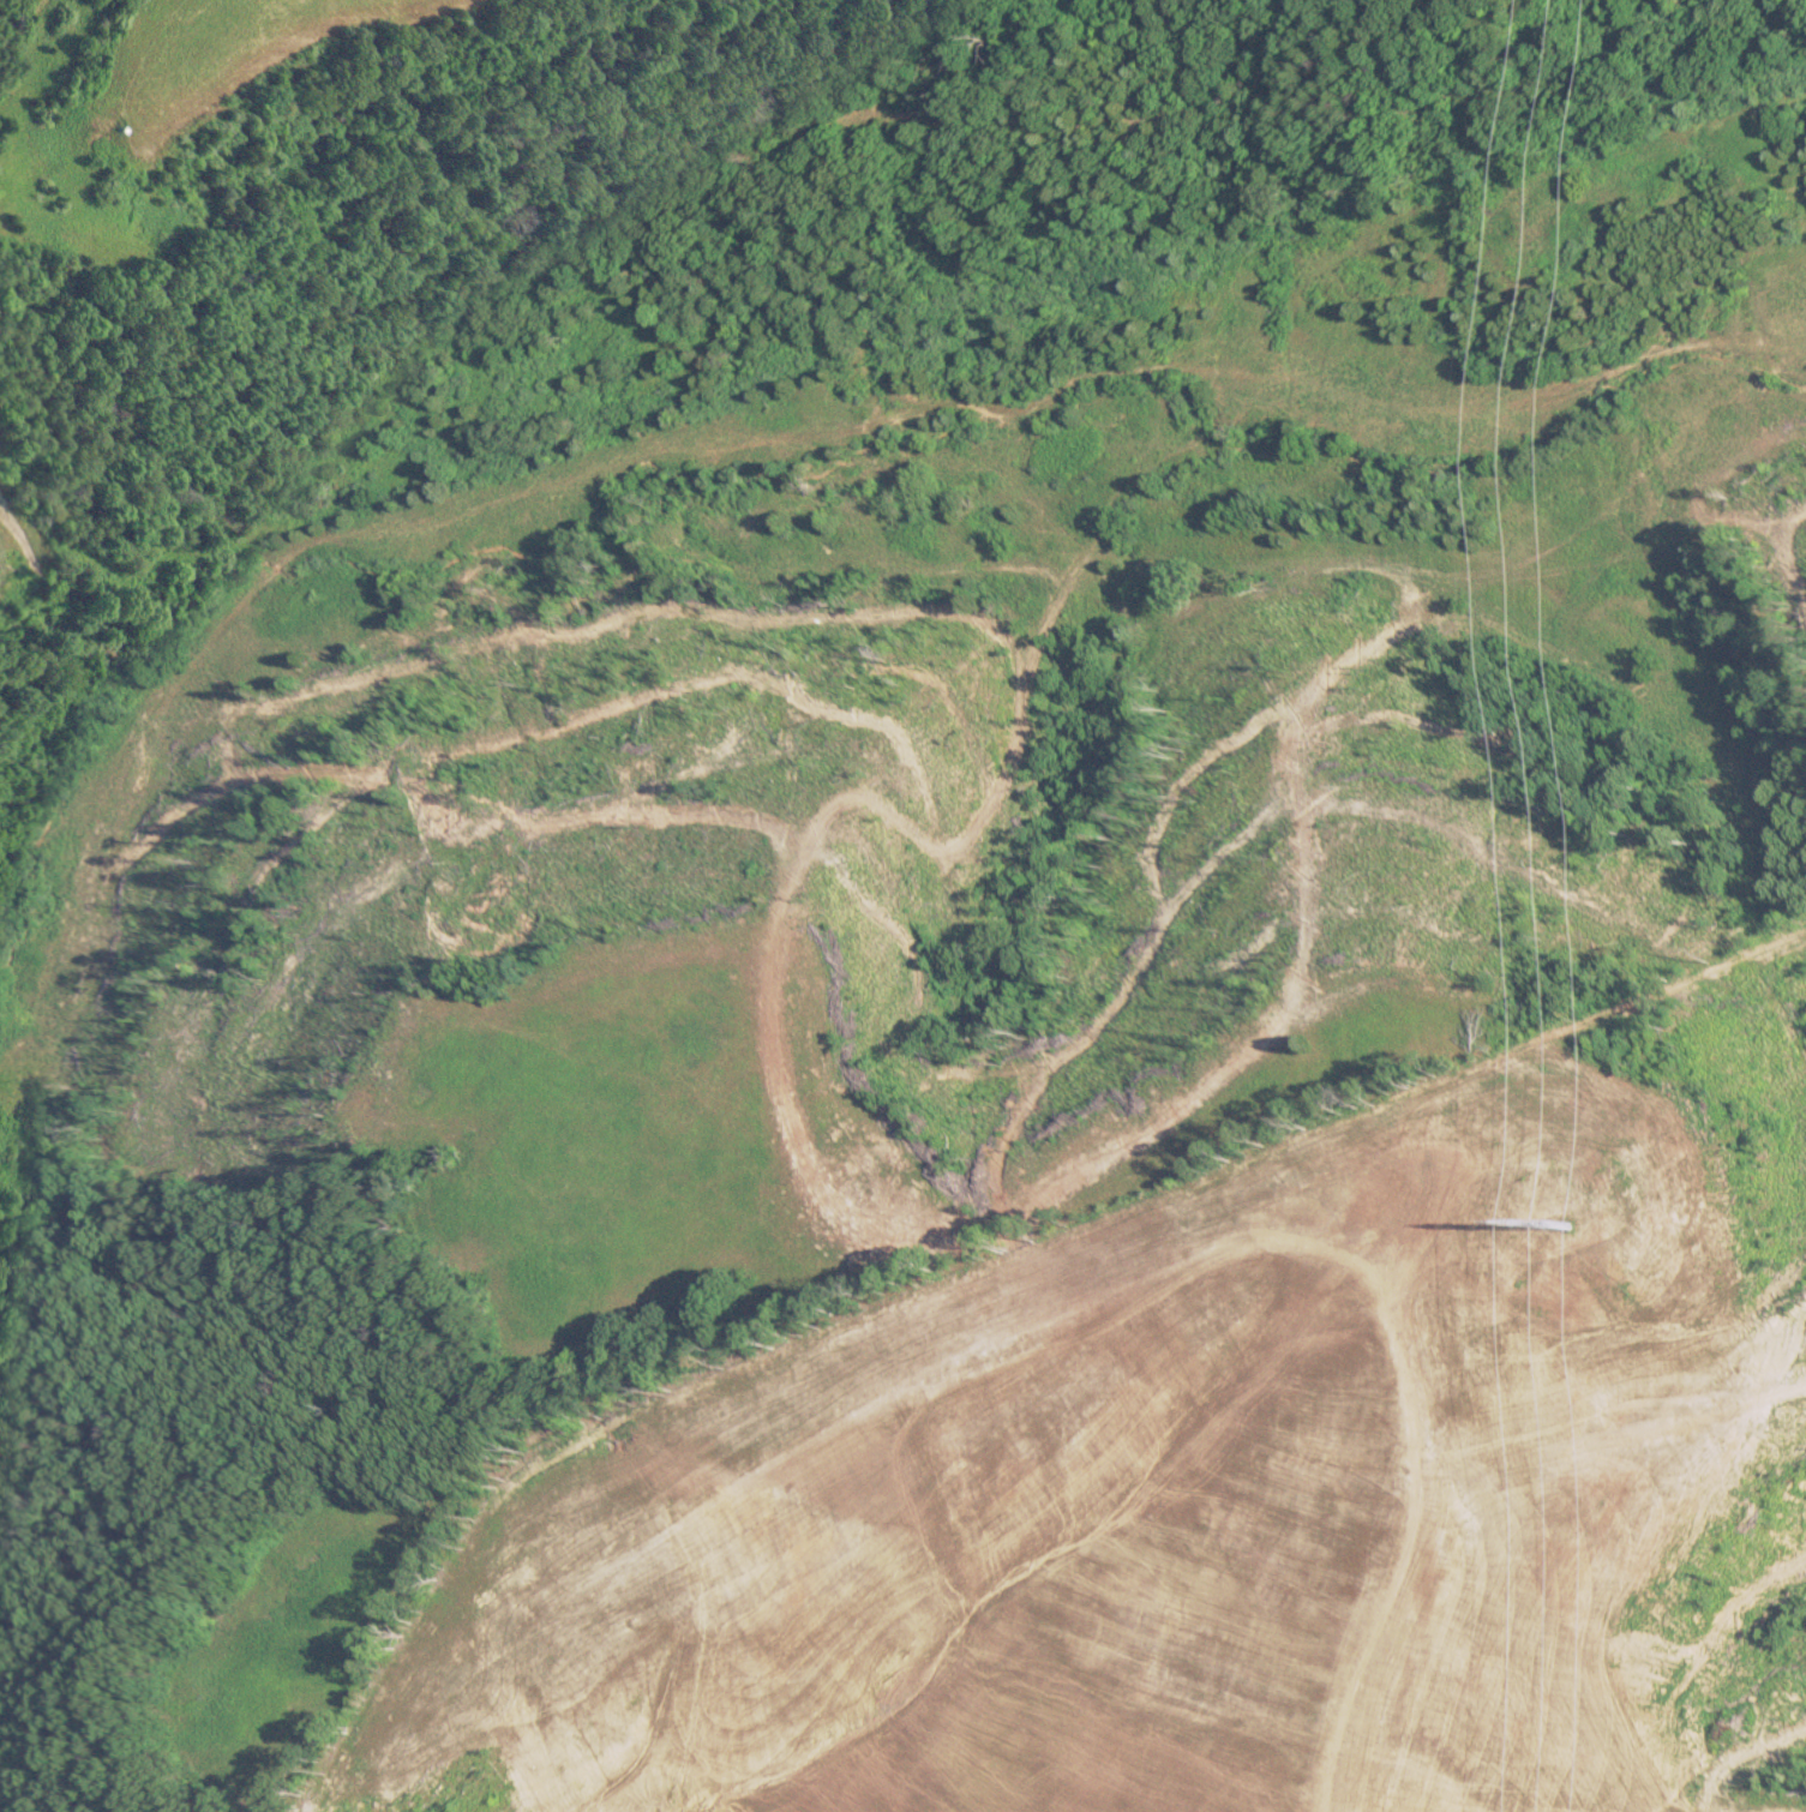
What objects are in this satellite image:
power tower: (1576, 1226)

